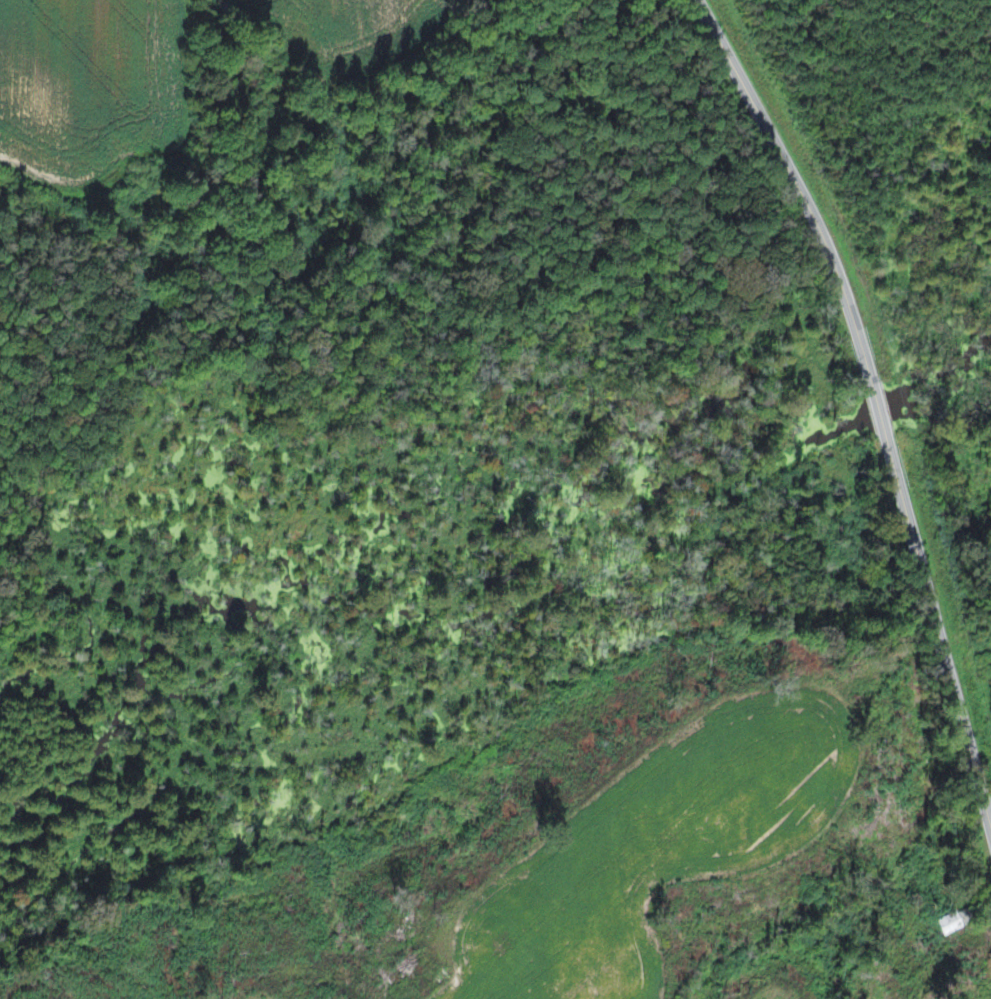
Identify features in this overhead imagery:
road: (707, 17)
road: (806, 203)
road: (879, 414)
road: (939, 632)

